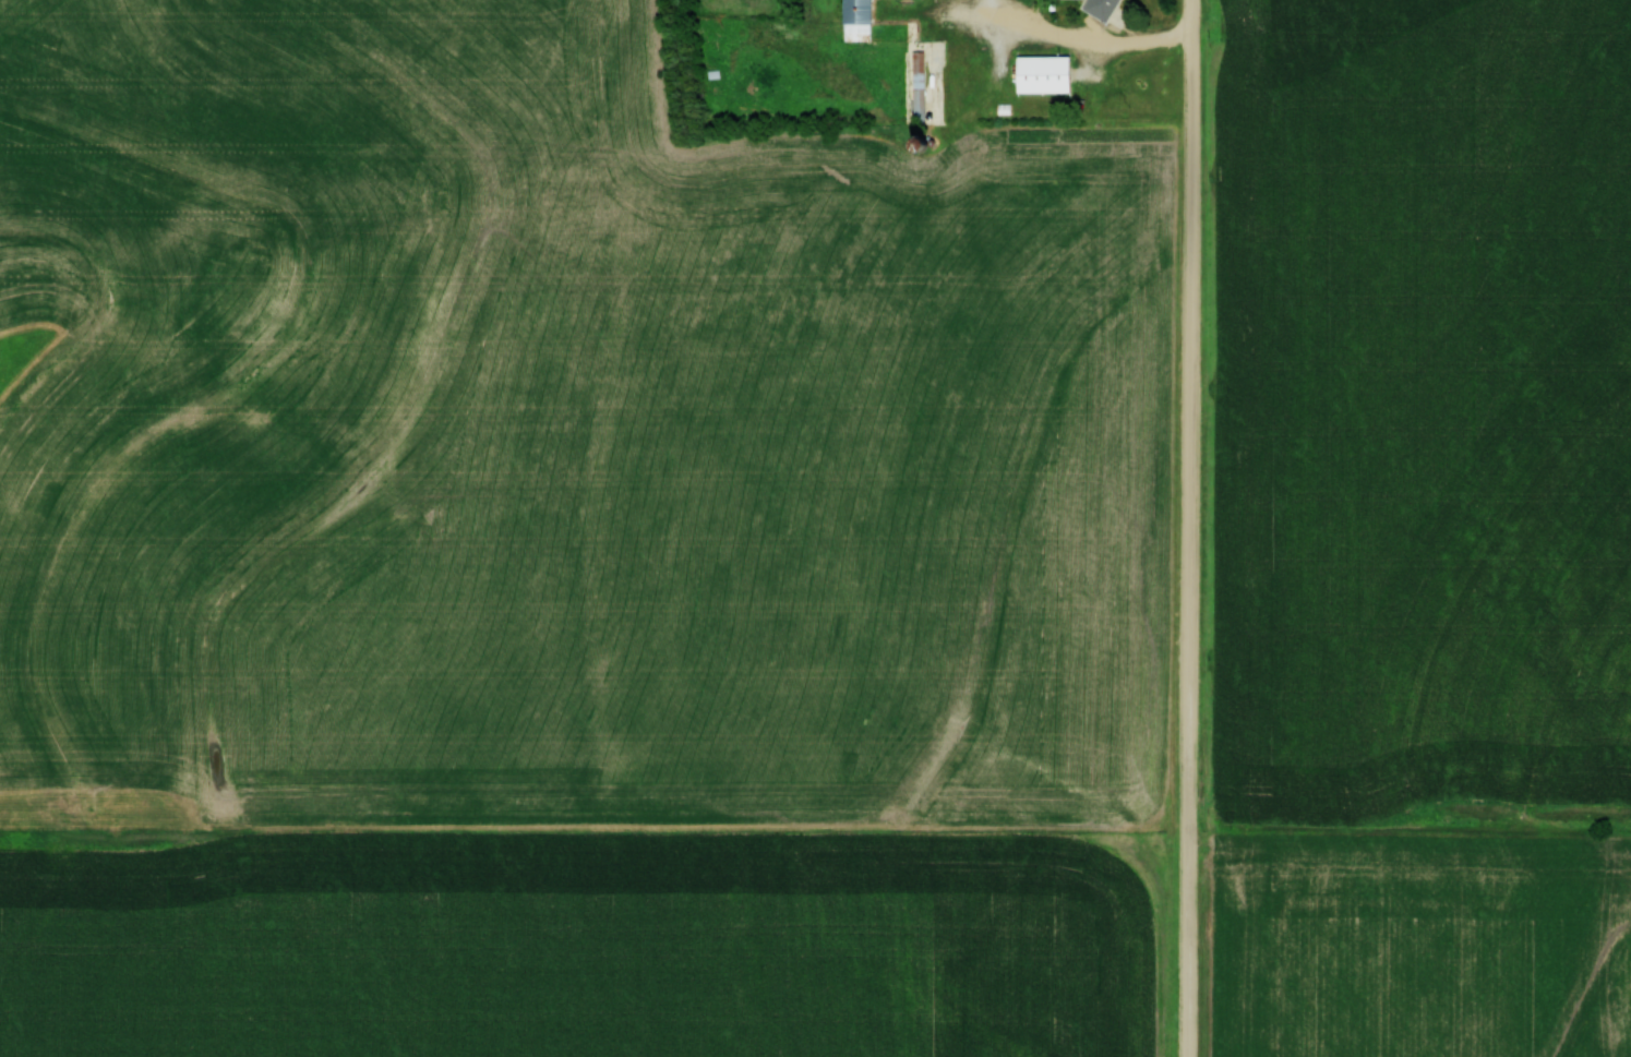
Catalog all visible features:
building: (1098, 8)
building: (853, 20)
road: (1084, 45)
building: (1039, 72)
building: (915, 82)
road: (1192, 528)

